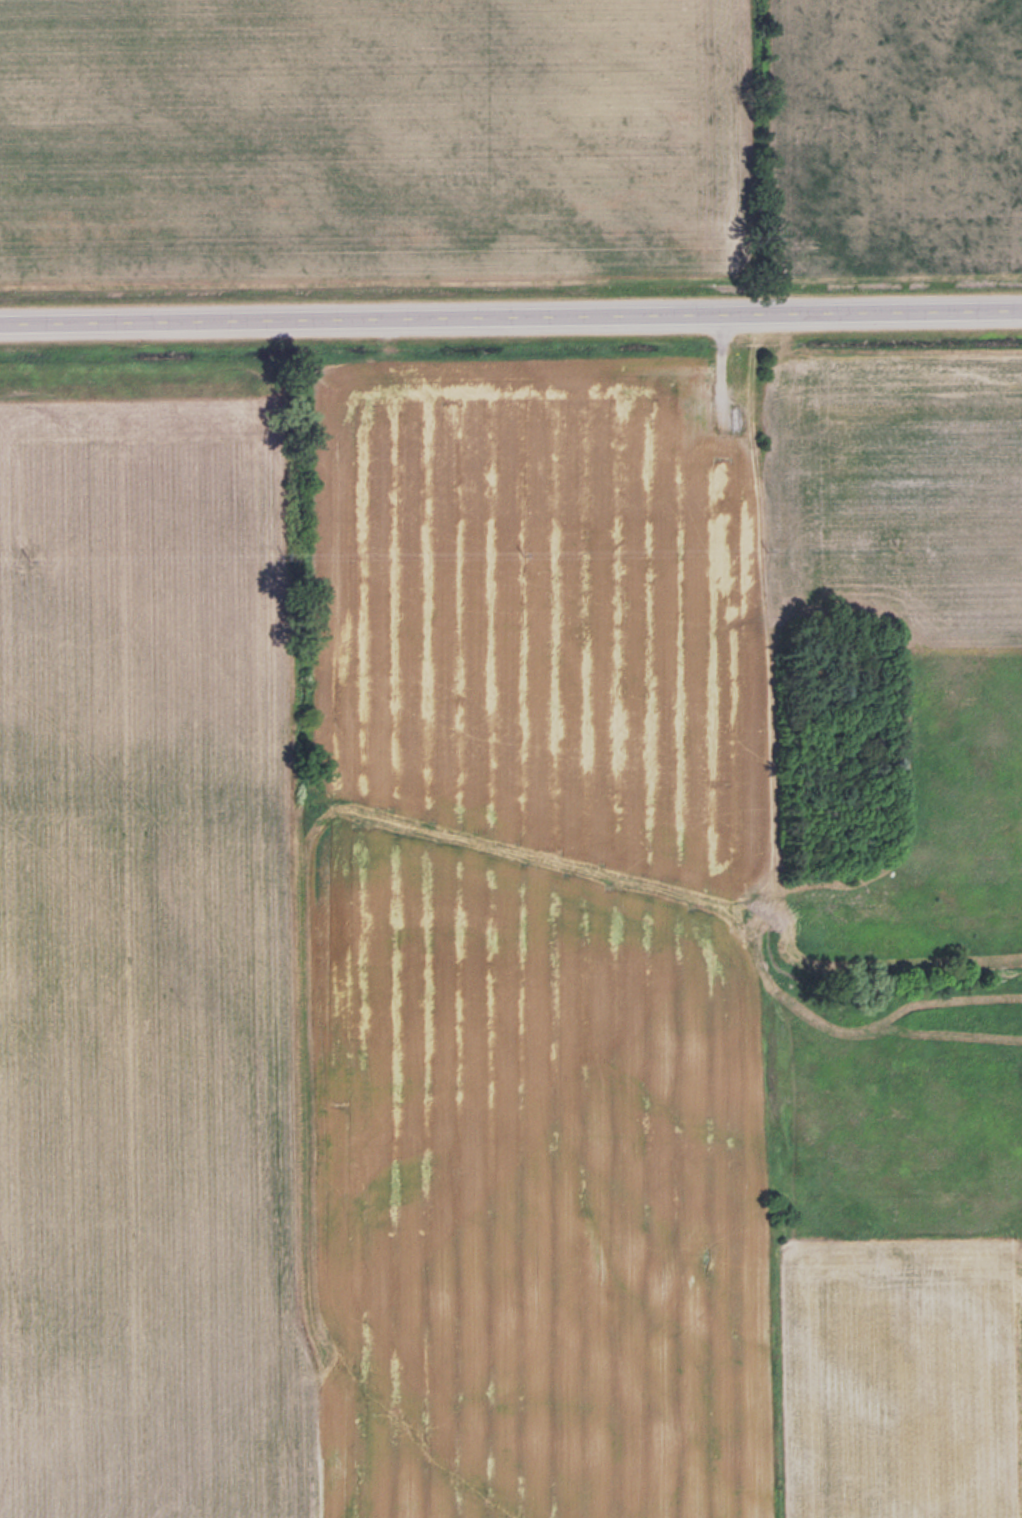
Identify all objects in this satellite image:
road: (510, 320)

